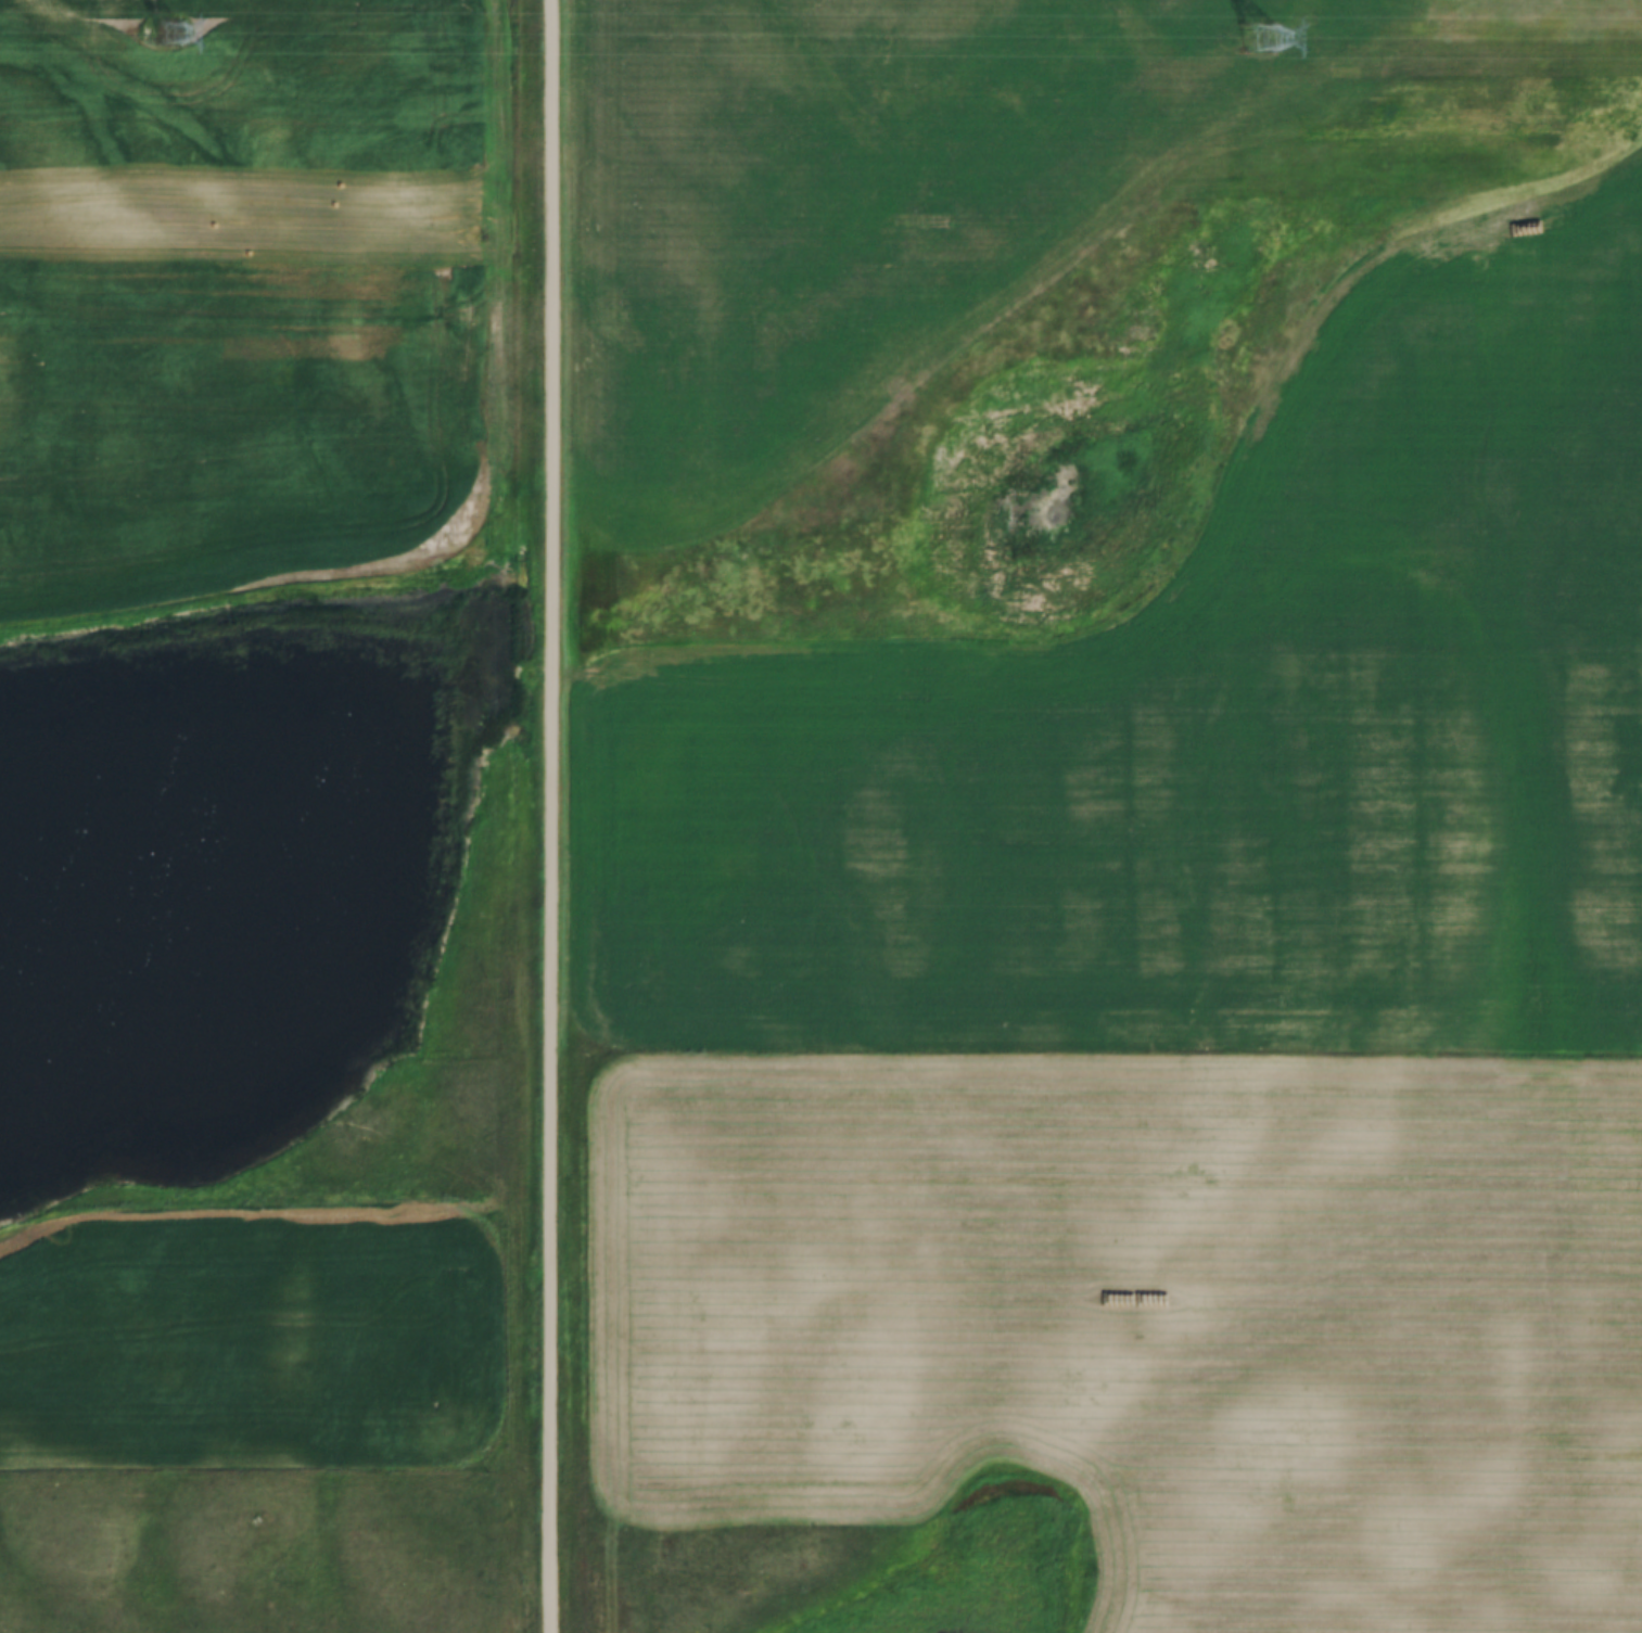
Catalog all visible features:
power tower: (175, 36)
power tower: (1264, 42)
road: (549, 816)

